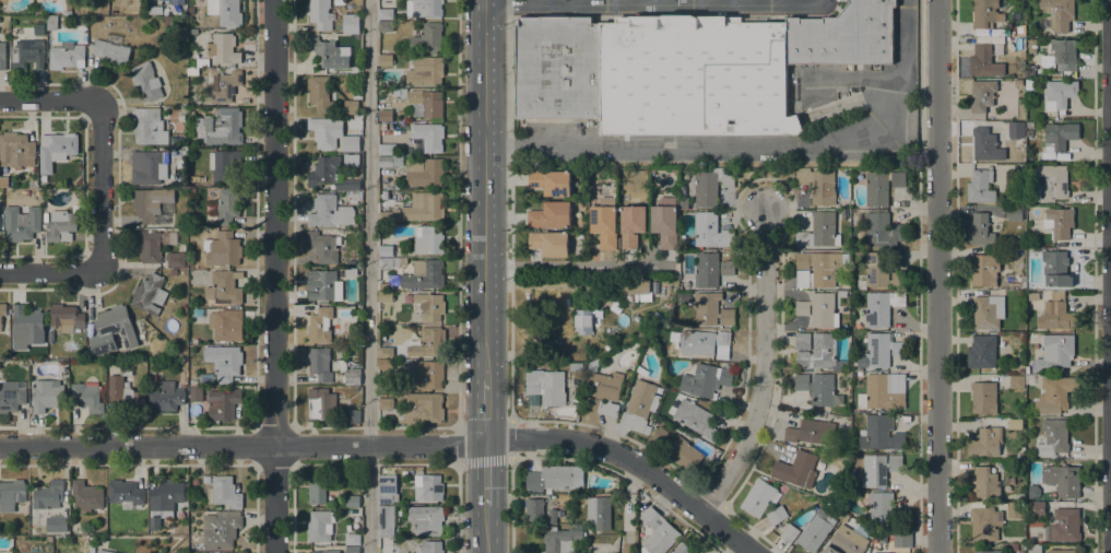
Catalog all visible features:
road: (705, 1)
road: (743, 1)
road: (783, 1)
building: (177, 2)
road: (536, 2)
road: (578, 2)
road: (617, 2)
road: (660, 2)
road: (819, 2)
road: (675, 3)
road: (509, 5)
building: (424, 8)
building: (104, 10)
building: (154, 10)
building: (95, 11)
building: (67, 12)
building: (225, 12)
building: (983, 12)
building: (1059, 13)
building: (319, 14)
building: (386, 14)
building: (166, 20)
building: (52, 23)
building: (351, 23)
building: (386, 26)
building: (1019, 30)
building: (192, 32)
building: (844, 36)
building: (427, 38)
building: (1016, 39)
building: (1016, 46)
building: (1031, 46)
building: (223, 48)
building: (998, 48)
building: (326, 50)
building: (385, 51)
building: (111, 52)
building: (28, 55)
building: (2, 56)
building: (66, 56)
building: (1060, 56)
building: (385, 60)
building: (983, 61)
building: (202, 62)
building: (557, 68)
building: (192, 71)
building: (425, 71)
road: (508, 72)
building: (1029, 72)
building: (694, 75)
building: (146, 81)
building: (1018, 82)
building: (222, 86)
building: (1029, 86)
building: (319, 93)
building: (1060, 93)
building: (395, 94)
building: (981, 95)
building: (427, 102)
building: (351, 107)
building: (184, 109)
building: (385, 115)
building: (1030, 125)
building: (382, 126)
building: (149, 127)
building: (220, 127)
building: (1016, 129)
building: (1029, 133)
building: (331, 134)
building: (1059, 136)
road: (102, 137)
building: (428, 137)
building: (1017, 142)
building: (59, 143)
road: (747, 144)
building: (985, 145)
building: (385, 149)
building: (16, 150)
building: (389, 161)
building: (223, 164)
building: (149, 167)
building: (423, 172)
building: (331, 175)
building: (58, 176)
building: (898, 179)
building: (551, 181)
building: (1052, 183)
building: (1, 184)
building: (817, 185)
building: (711, 186)
building: (980, 187)
building: (876, 188)
road: (484, 189)
building: (191, 191)
building: (38, 192)
building: (682, 192)
building: (355, 197)
building: (151, 203)
building: (682, 203)
building: (227, 205)
building: (424, 207)
building: (329, 211)
building: (1029, 211)
road: (457, 213)
building: (1015, 213)
building: (551, 214)
building: (846, 215)
building: (385, 216)
building: (605, 222)
building: (665, 222)
building: (1059, 222)
building: (21, 223)
building: (61, 224)
building: (631, 224)
building: (818, 230)
building: (883, 230)
building: (979, 230)
building: (710, 231)
building: (428, 238)
building: (856, 238)
building: (549, 243)
building: (152, 244)
building: (323, 246)
building: (224, 249)
building: (388, 250)
building: (175, 259)
building: (189, 261)
building: (389, 262)
road: (578, 264)
building: (726, 268)
building: (706, 269)
building: (818, 269)
building: (985, 269)
building: (1056, 269)
building: (351, 271)
road: (48, 272)
building: (173, 272)
building: (882, 272)
building: (423, 275)
road: (274, 276)
road: (367, 276)
road: (937, 276)
road: (1110, 276)
building: (1009, 280)
building: (323, 285)
building: (224, 286)
building: (383, 286)
building: (630, 286)
building: (149, 294)
building: (842, 294)
building: (386, 296)
building: (430, 306)
building: (880, 307)
building: (818, 309)
building: (711, 310)
building: (2, 311)
building: (988, 311)
building: (66, 317)
building: (1061, 317)
building: (583, 321)
building: (25, 325)
building: (226, 325)
building: (321, 326)
building: (113, 330)
building: (1032, 338)
building: (802, 341)
building: (428, 342)
building: (701, 342)
building: (880, 350)
building: (385, 352)
building: (982, 352)
building: (1055, 352)
building: (818, 353)
building: (224, 362)
building: (320, 364)
building: (386, 364)
building: (71, 365)
building: (576, 366)
road: (763, 370)
building: (350, 374)
building: (427, 375)
building: (1, 378)
building: (706, 379)
building: (193, 383)
building: (1016, 383)
building: (546, 386)
building: (817, 388)
building: (123, 389)
building: (883, 391)
building: (603, 393)
building: (46, 395)
building: (11, 396)
building: (1052, 396)
building: (86, 397)
building: (165, 398)
building: (984, 398)
building: (216, 401)
building: (319, 402)
building: (387, 403)
building: (640, 404)
building: (426, 405)
road: (485, 412)
building: (352, 416)
building: (696, 420)
building: (1015, 424)
road: (413, 427)
building: (813, 432)
building: (879, 434)
building: (661, 436)
building: (1052, 439)
building: (985, 442)
road: (243, 446)
building: (684, 454)
road: (631, 461)
road: (413, 463)
building: (795, 469)
building: (878, 469)
road: (485, 475)
building: (555, 479)
building: (1063, 479)
building: (206, 480)
building: (985, 482)
building: (428, 487)
building: (388, 489)
building: (318, 490)
building: (126, 492)
building: (224, 492)
building: (1033, 492)
building: (11, 494)
building: (1019, 495)
building: (86, 496)
building: (166, 497)
building: (759, 497)
building: (352, 501)
building: (52, 506)
road: (458, 508)
building: (880, 508)
building: (534, 509)
building: (1037, 509)
building: (1014, 510)
building: (599, 513)
building: (777, 515)
building: (552, 516)
building: (386, 520)
building: (425, 520)
building: (154, 522)
building: (983, 523)
building: (1065, 525)
building: (320, 526)
building: (221, 529)
road: (485, 529)
building: (816, 530)
building: (176, 531)
building: (657, 532)
building: (789, 532)
building: (879, 538)
building: (49, 539)
building: (84, 539)
building: (352, 539)
building: (562, 539)
building: (847, 540)
building: (901, 540)
building: (429, 546)
building: (1015, 546)
building: (682, 549)
building: (1033, 549)
building: (352, 550)
building: (104, 551)
building: (988, 551)
building: (1063, 551)
building: (320, 552)
building: (873, 552)
building: (880, 552)

